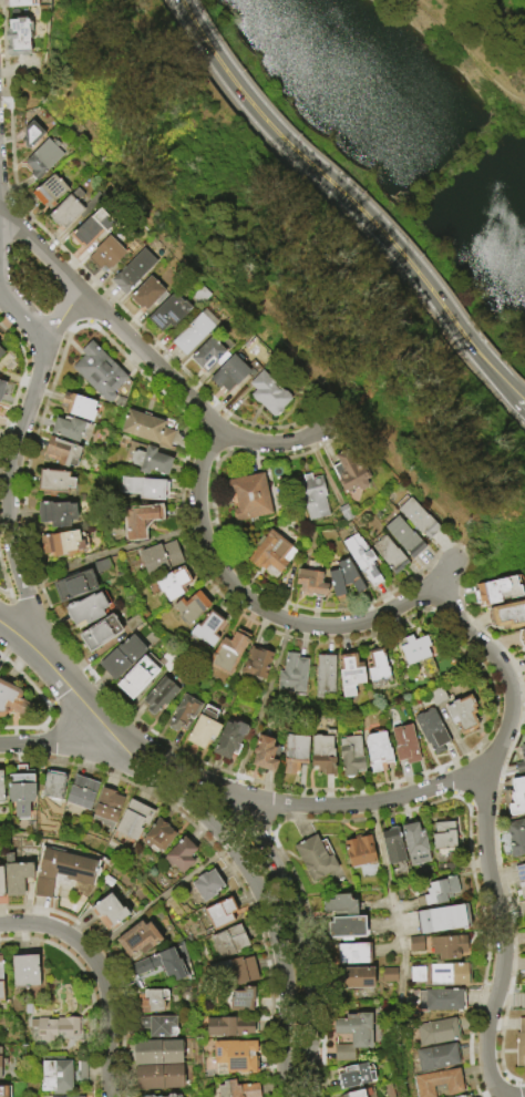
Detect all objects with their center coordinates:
building: (19, 3)
building: (17, 37)
road: (467, 51)
building: (31, 134)
building: (43, 157)
road: (327, 178)
building: (49, 192)
building: (68, 208)
road: (342, 216)
building: (86, 230)
road: (39, 248)
building: (106, 253)
building: (133, 270)
building: (146, 294)
road: (63, 315)
building: (165, 316)
building: (195, 331)
building: (1, 353)
building: (208, 353)
building: (99, 371)
building: (229, 373)
road: (502, 375)
road: (502, 382)
building: (1, 389)
building: (268, 393)
road: (189, 397)
building: (74, 408)
building: (0, 409)
building: (148, 428)
building: (65, 430)
building: (59, 452)
road: (12, 461)
building: (148, 462)
building: (349, 472)
building: (51, 482)
building: (144, 488)
building: (250, 495)
building: (312, 496)
building: (341, 513)
building: (54, 515)
building: (416, 516)
building: (140, 520)
building: (404, 536)
building: (59, 545)
building: (270, 551)
building: (388, 553)
building: (361, 558)
building: (157, 560)
building: (311, 578)
building: (343, 580)
building: (171, 584)
building: (74, 587)
building: (496, 591)
building: (189, 608)
building: (85, 609)
road: (270, 614)
building: (507, 615)
building: (205, 630)
building: (100, 633)
building: (522, 637)
building: (226, 655)
building: (411, 656)
building: (120, 658)
building: (255, 665)
building: (371, 668)
building: (292, 675)
building: (137, 676)
building: (346, 676)
building: (321, 677)
road: (65, 681)
building: (159, 695)
building: (437, 696)
building: (11, 701)
road: (259, 712)
building: (184, 714)
building: (463, 714)
building: (203, 727)
building: (432, 730)
building: (524, 736)
building: (229, 739)
building: (405, 744)
road: (62, 745)
building: (378, 751)
building: (295, 752)
building: (265, 755)
building: (323, 755)
building: (522, 755)
building: (351, 756)
building: (52, 786)
building: (1, 788)
building: (20, 791)
building: (81, 793)
building: (517, 794)
road: (357, 804)
building: (107, 807)
building: (133, 821)
road: (483, 828)
building: (442, 837)
building: (157, 838)
building: (513, 840)
building: (413, 844)
building: (392, 847)
building: (358, 852)
building: (179, 857)
building: (313, 858)
building: (446, 868)
building: (61, 870)
building: (421, 872)
building: (16, 876)
building: (521, 879)
building: (1, 881)
road: (286, 883)
building: (206, 884)
building: (436, 892)
road: (264, 895)
road: (390, 904)
building: (339, 908)
building: (106, 913)
building: (219, 913)
building: (441, 920)
building: (342, 930)
building: (137, 940)
building: (228, 941)
building: (447, 946)
building: (349, 956)
building: (161, 965)
building: (238, 968)
building: (25, 971)
building: (388, 973)
road: (101, 974)
building: (449, 974)
building: (416, 975)
building: (1, 980)
building: (351, 980)
building: (152, 999)
building: (241, 999)
building: (440, 999)
building: (523, 1004)
building: (52, 1026)
building: (157, 1026)
building: (227, 1026)
building: (435, 1033)
building: (351, 1035)
building: (519, 1044)
building: (157, 1053)
building: (235, 1056)
building: (435, 1057)
building: (76, 1069)
building: (51, 1075)
building: (354, 1076)
building: (158, 1077)
building: (437, 1083)
building: (236, 1089)
building: (1, 1090)
building: (353, 1094)
building: (51, 1096)
building: (70, 1096)
building: (147, 1096)
building: (172, 1096)
building: (461, 1096)
building: (466, 1096)
road: (524, 1096)

